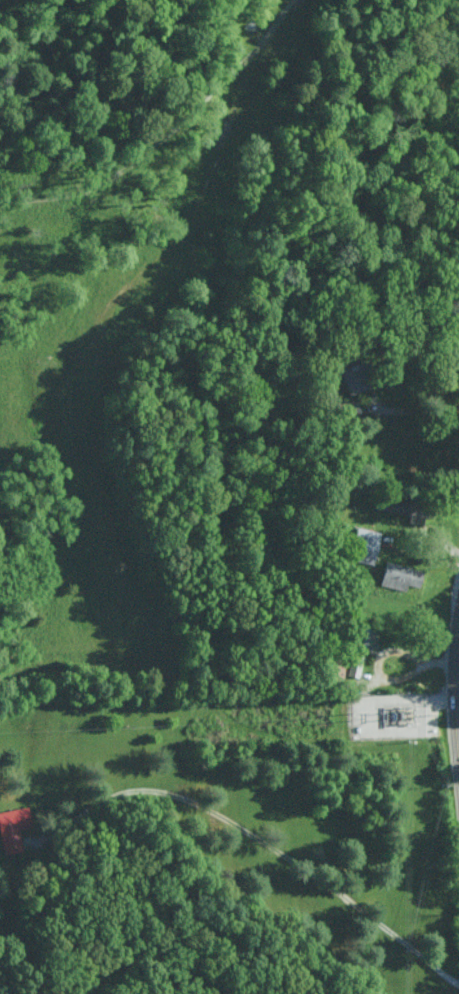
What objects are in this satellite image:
road: (165, 133)
building: (356, 378)
building: (366, 545)
building: (401, 576)
road: (454, 710)
power substation: (388, 714)
building: (12, 829)

